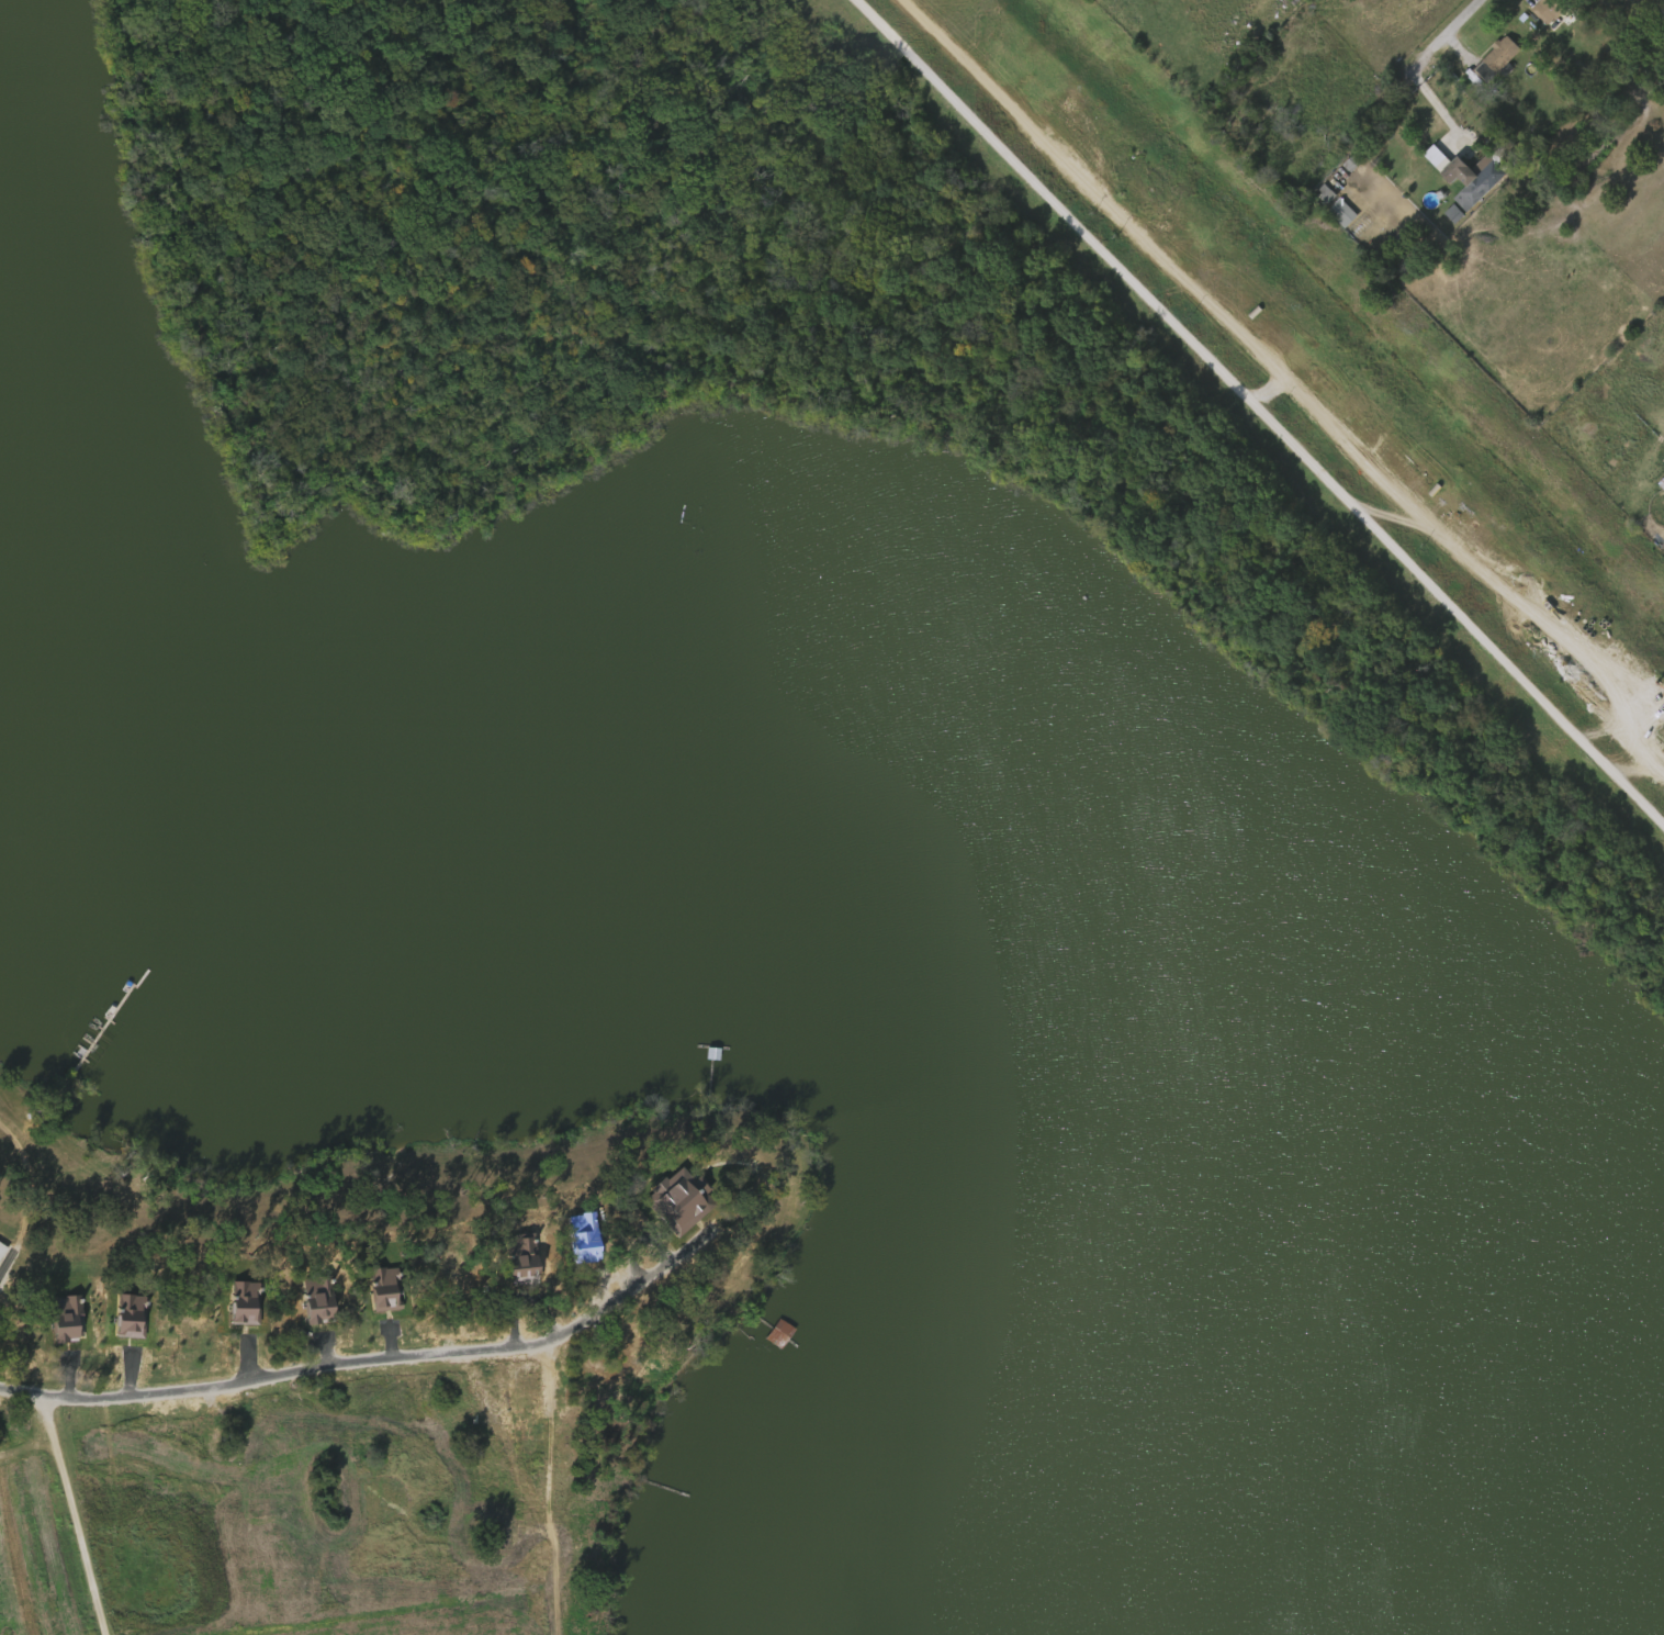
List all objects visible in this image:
building: (1548, 9)
road: (1469, 20)
building: (1638, 26)
building: (1496, 60)
road: (1409, 88)
building: (1481, 182)
building: (1444, 216)
road: (1261, 410)
building: (1662, 497)
building: (99, 1039)
road: (737, 1139)
building: (3, 1251)
road: (413, 1277)
building: (783, 1335)
building: (37, 1337)
road: (30, 1358)
road: (262, 1376)

